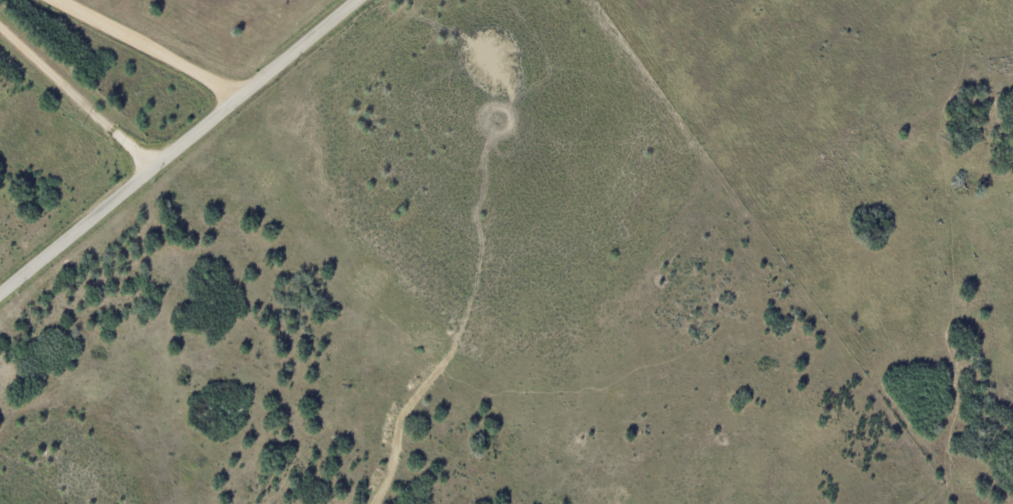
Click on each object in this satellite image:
road: (179, 148)

